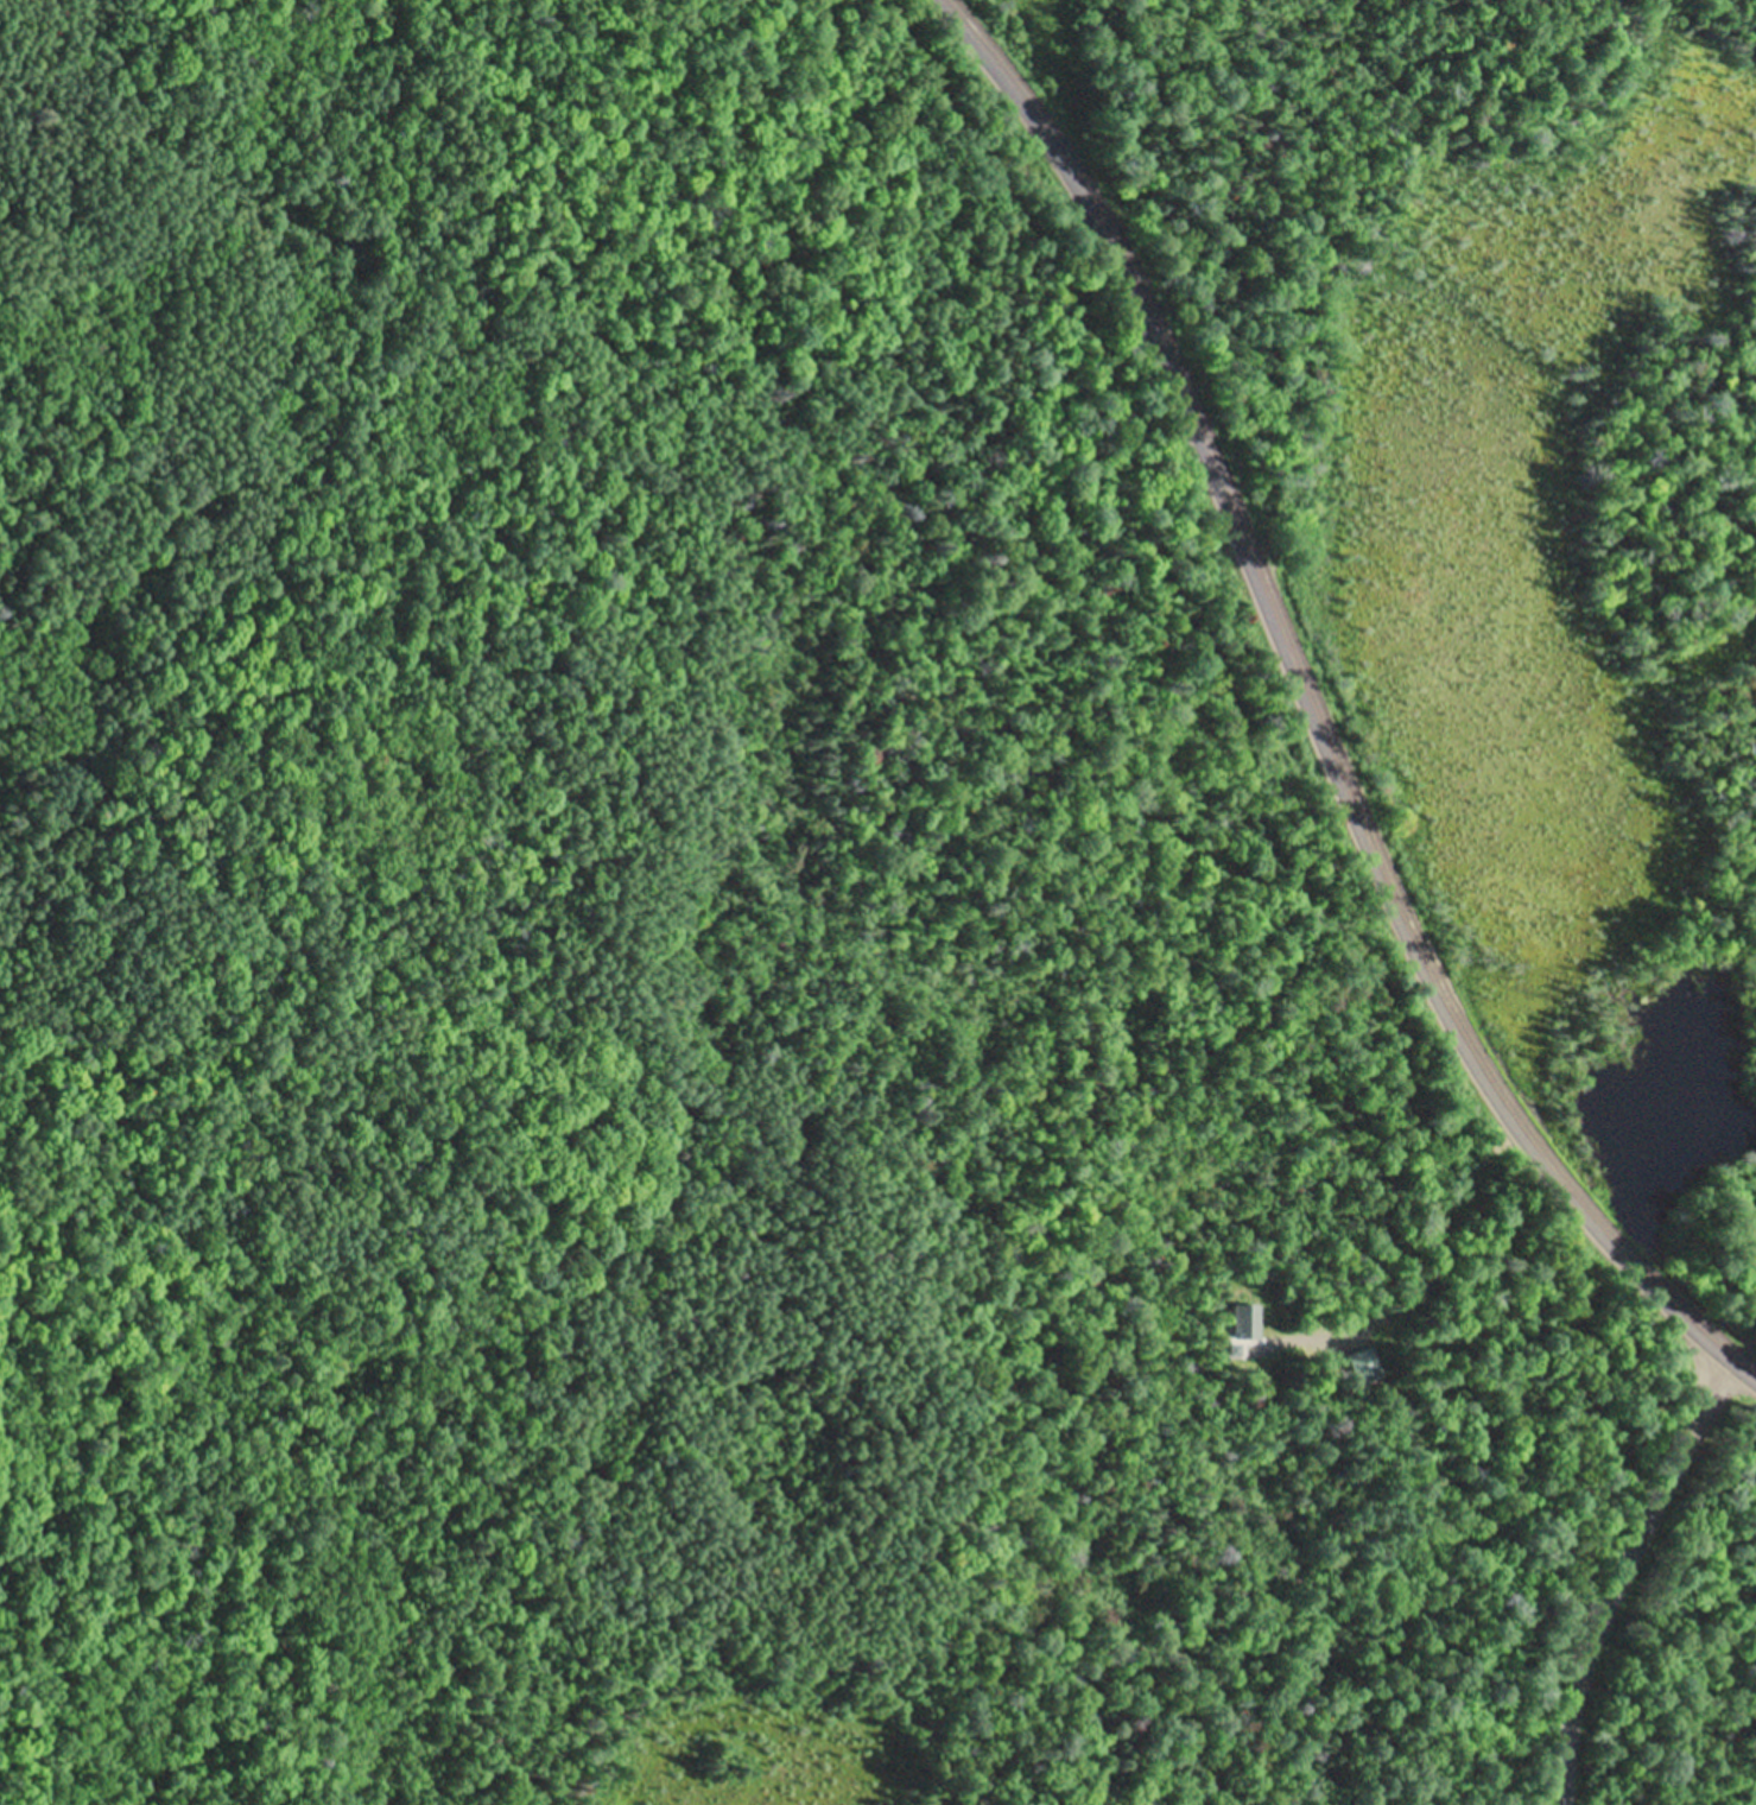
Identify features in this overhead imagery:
road: (1316, 707)
road: (1625, 1567)

